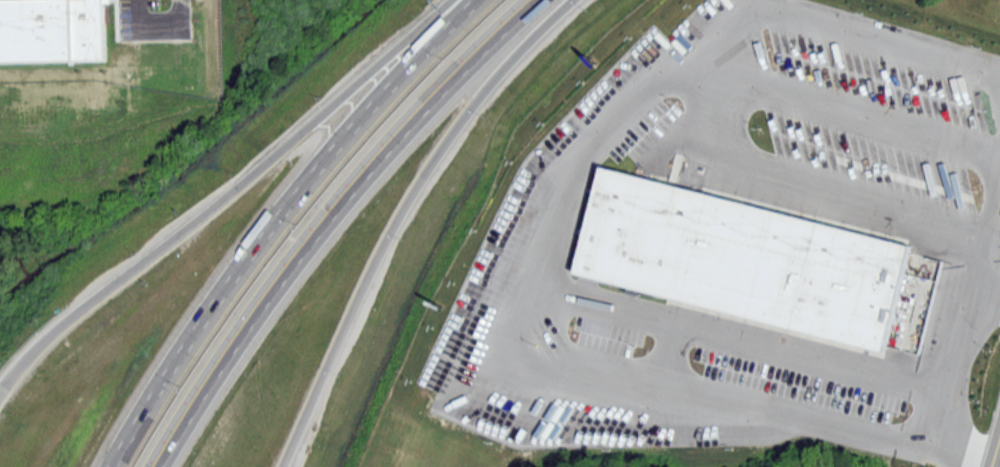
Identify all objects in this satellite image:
building: (52, 30)
road: (726, 31)
road: (884, 35)
road: (997, 67)
road: (862, 118)
road: (571, 164)
road: (222, 195)
road: (992, 208)
road: (397, 215)
road: (274, 219)
road: (324, 219)
building: (744, 258)
road: (946, 381)
road: (996, 452)

